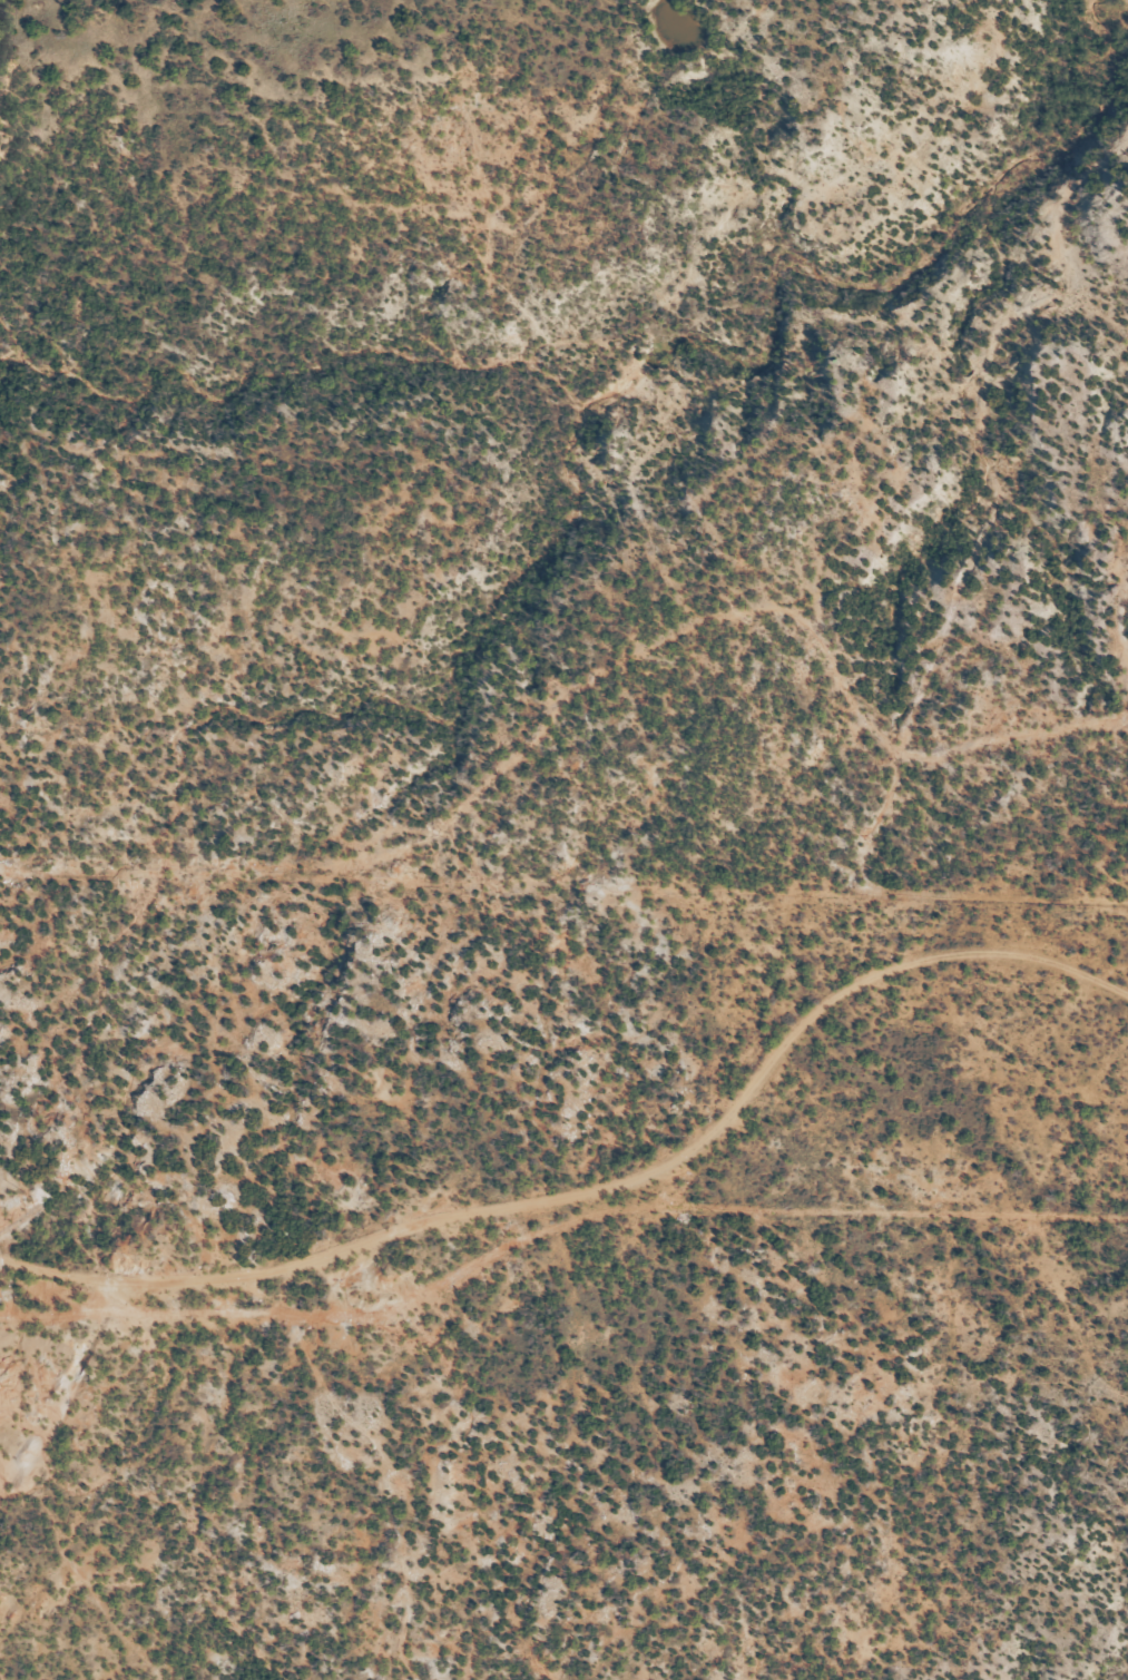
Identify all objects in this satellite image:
road: (604, 1210)

